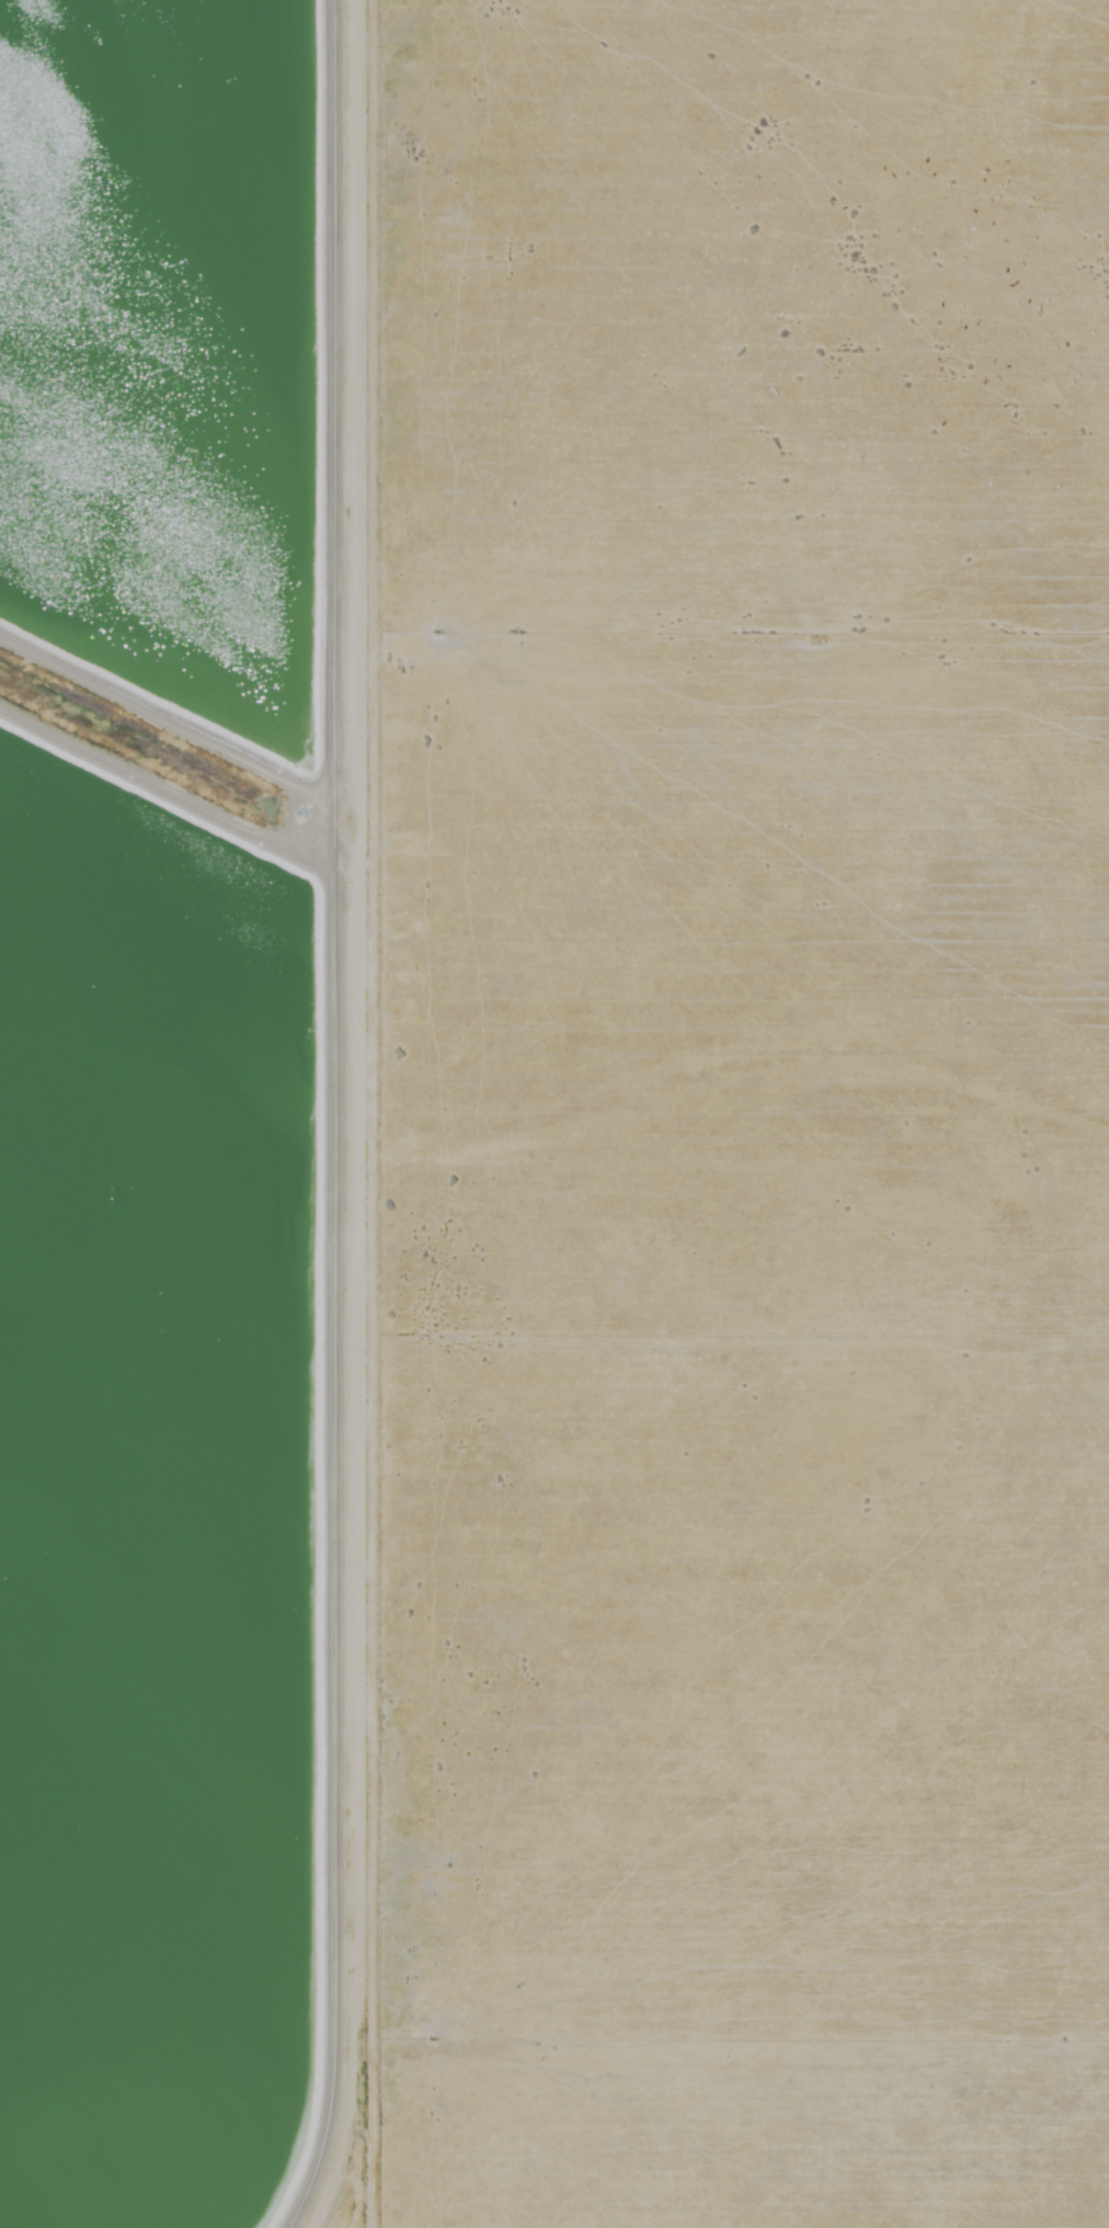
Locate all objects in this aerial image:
crop: (739, 1118)

